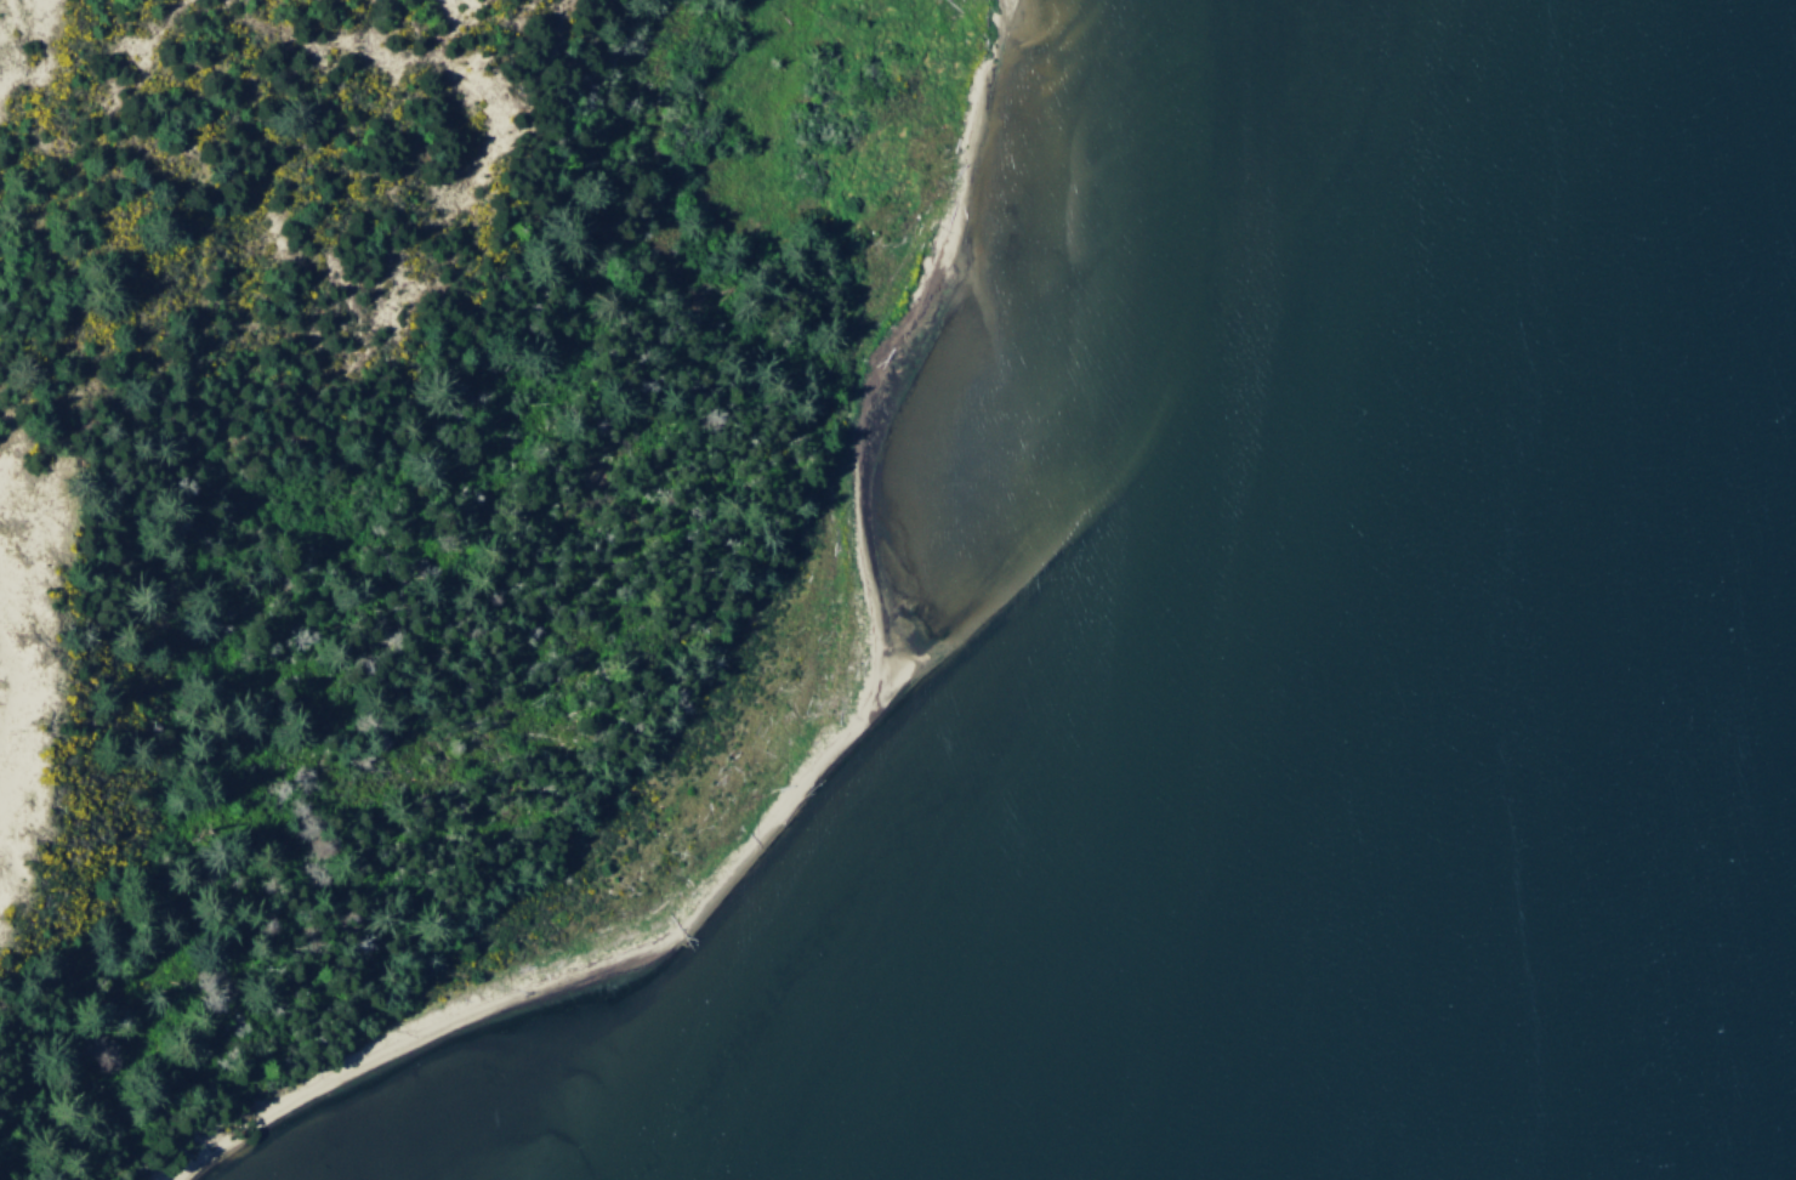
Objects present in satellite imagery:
river: (1660, 902)

